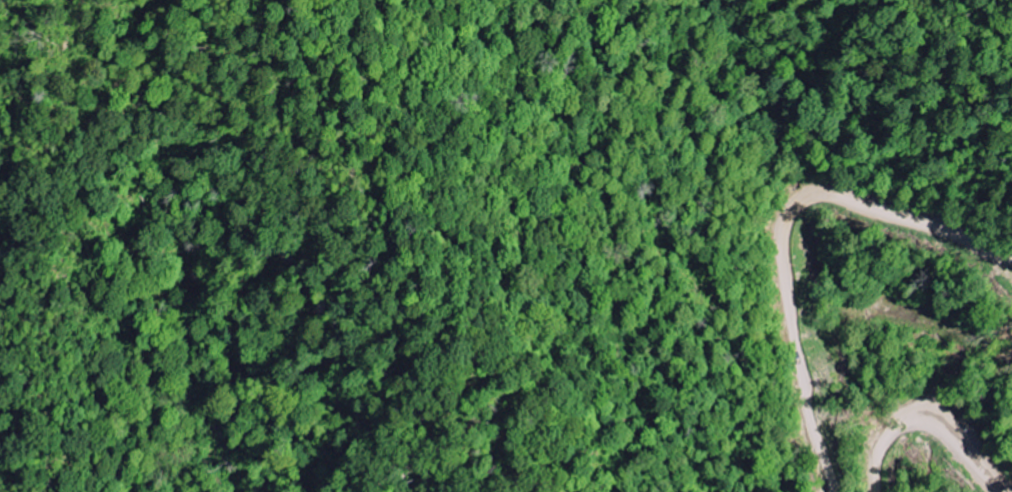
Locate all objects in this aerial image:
road: (836, 263)
road: (948, 411)

